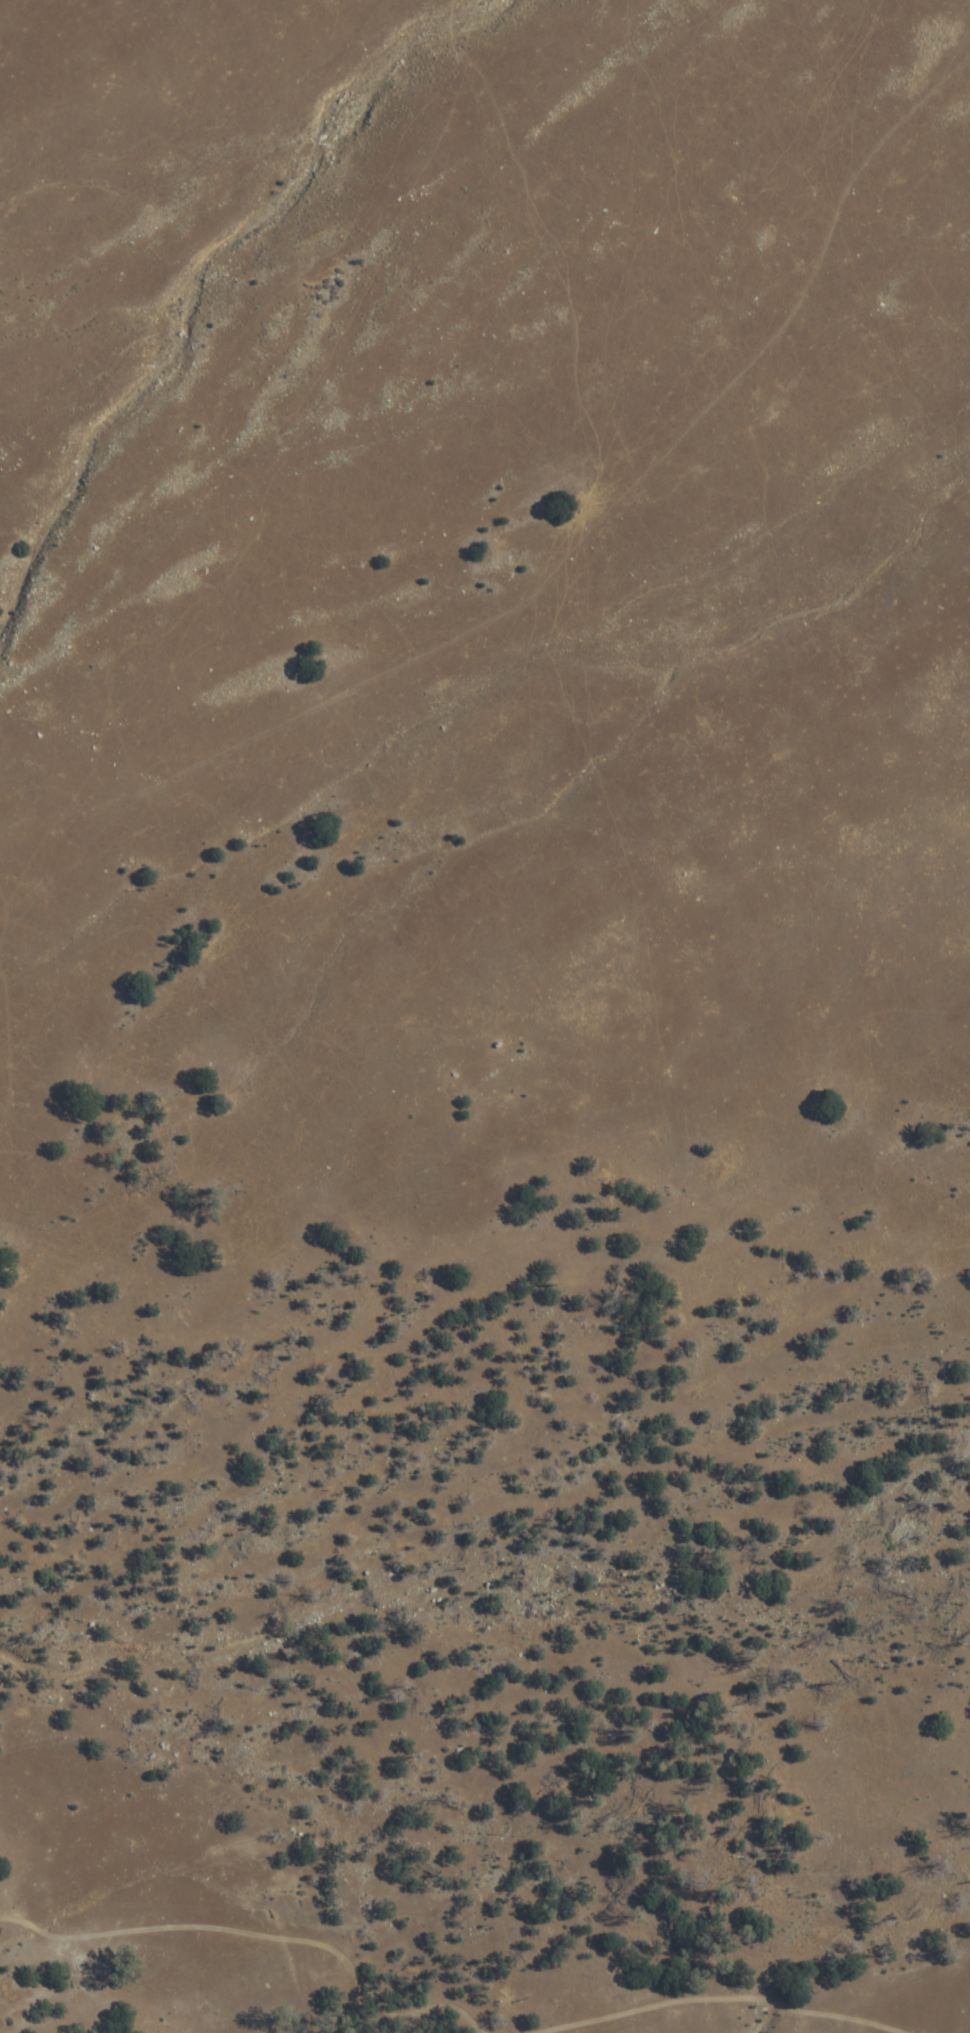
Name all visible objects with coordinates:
road: (574, 561)
road: (69, 866)
road: (512, 1091)
road: (964, 1639)

